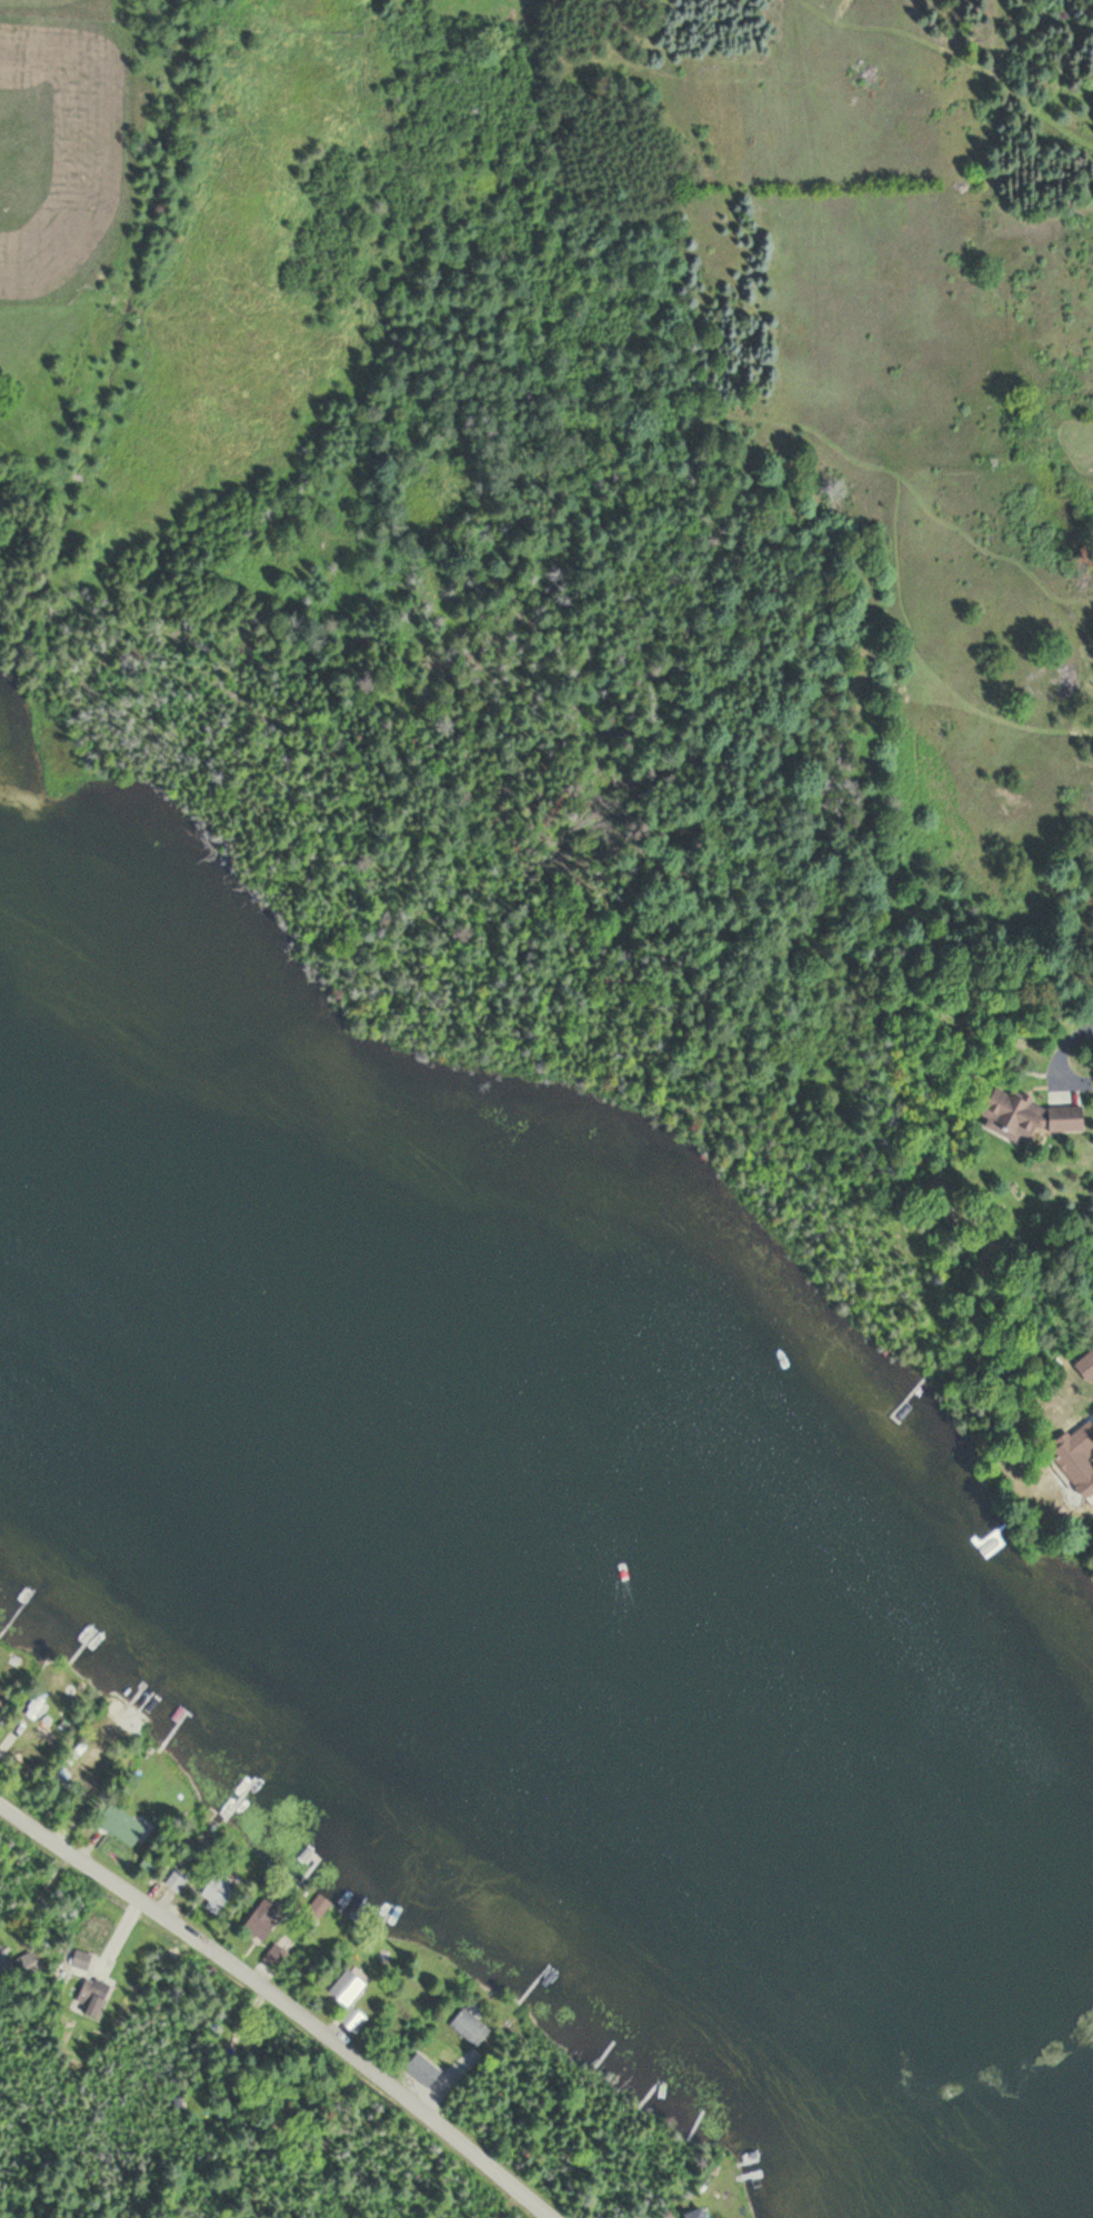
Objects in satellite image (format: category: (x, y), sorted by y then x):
building: (1027, 1116)
building: (1086, 1366)
building: (1076, 1456)
building: (121, 1825)
building: (177, 1880)
building: (215, 1895)
building: (261, 1920)
building: (275, 1956)
building: (79, 1960)
building: (3, 1967)
building: (93, 1997)
road: (280, 1997)
building: (348, 1999)
building: (470, 2027)

